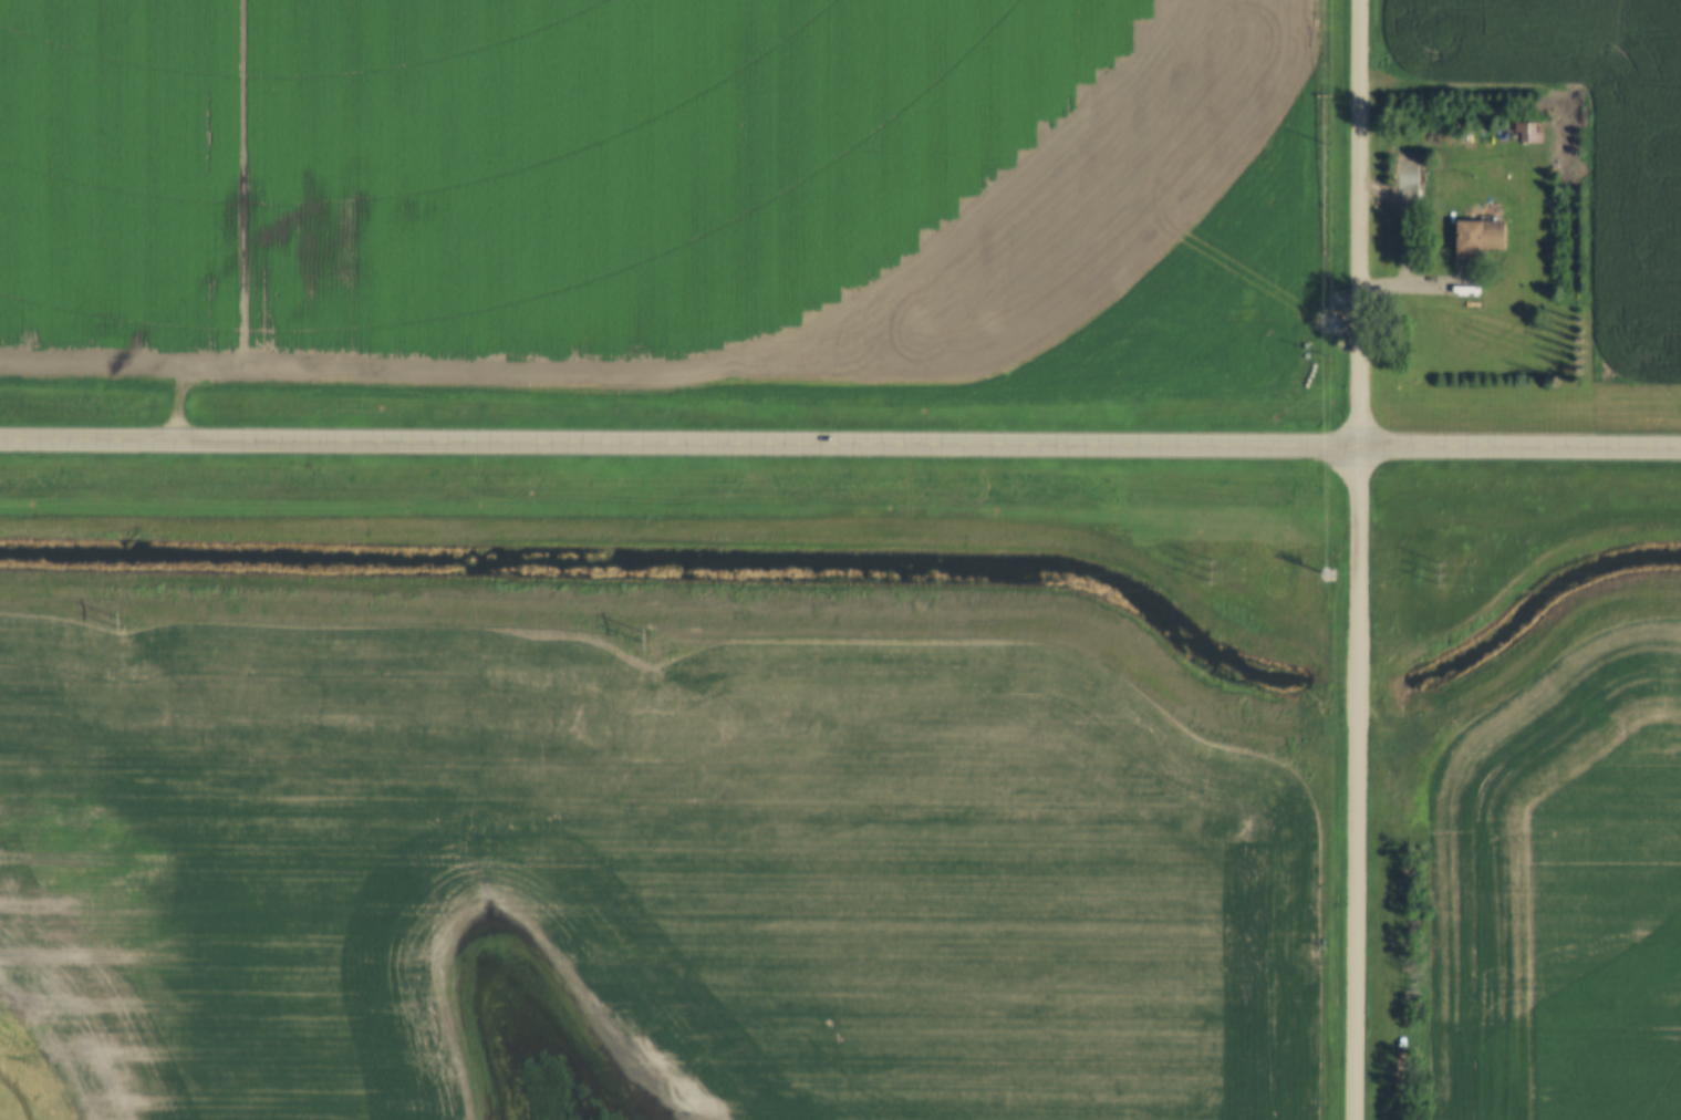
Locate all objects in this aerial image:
building: (1478, 240)
road: (840, 445)
road: (1357, 559)
power tower: (203, 561)
power tower: (802, 568)
power tower: (1418, 574)

